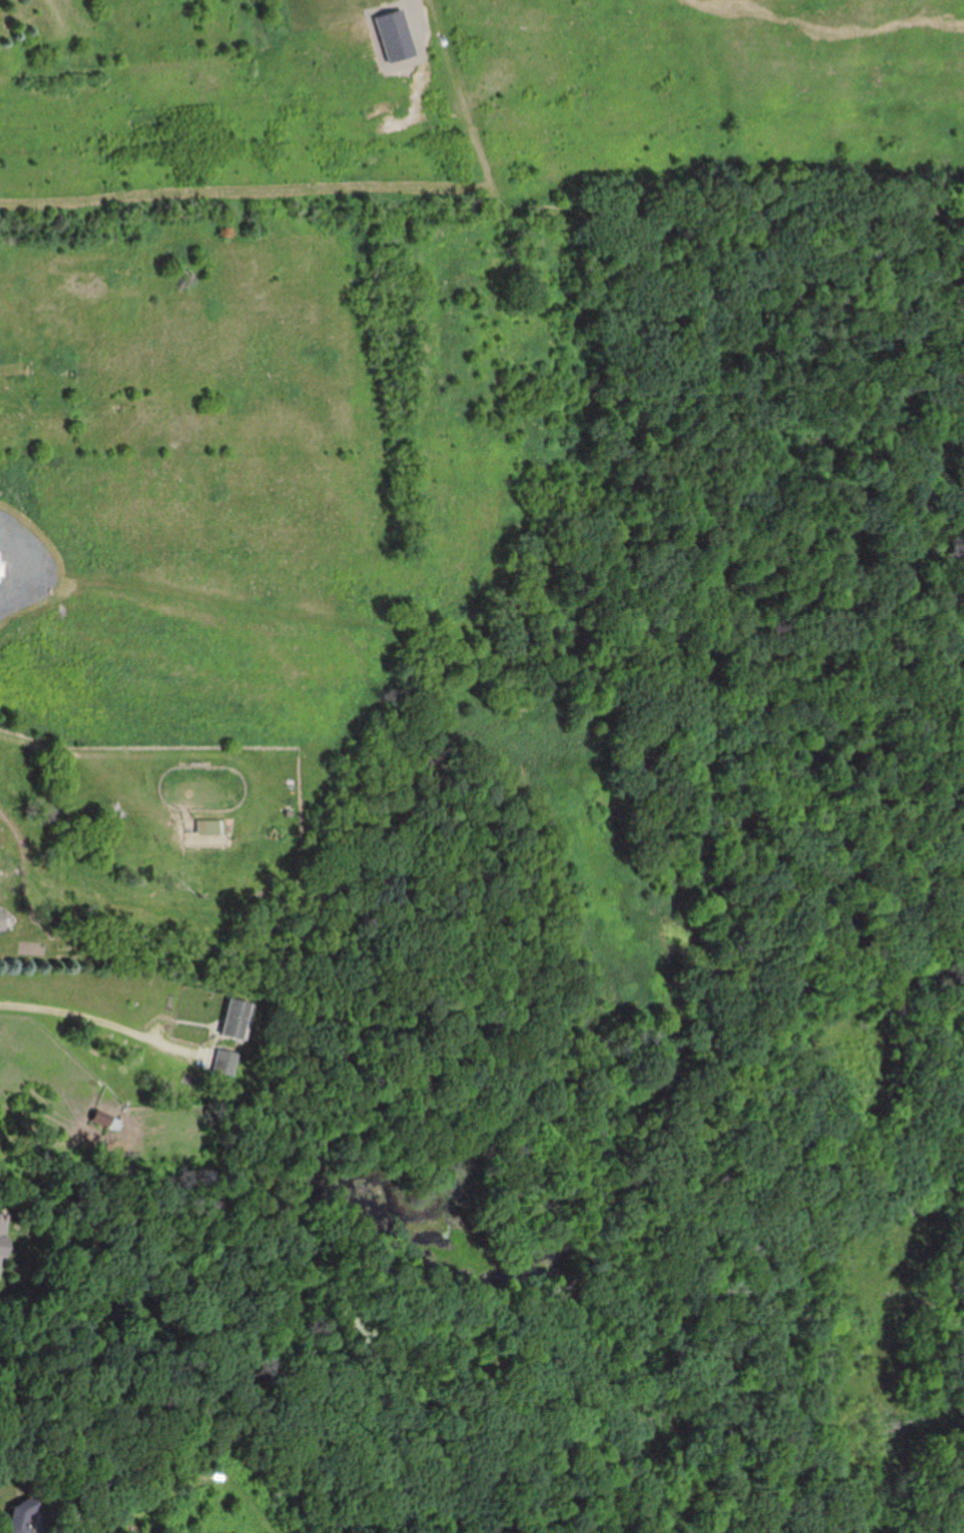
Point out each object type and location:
park: (510, 710)
building: (211, 826)
building: (2, 920)
road: (71, 1014)
building: (234, 1018)
road: (167, 1023)
building: (224, 1061)
building: (5, 1240)
building: (20, 1518)

